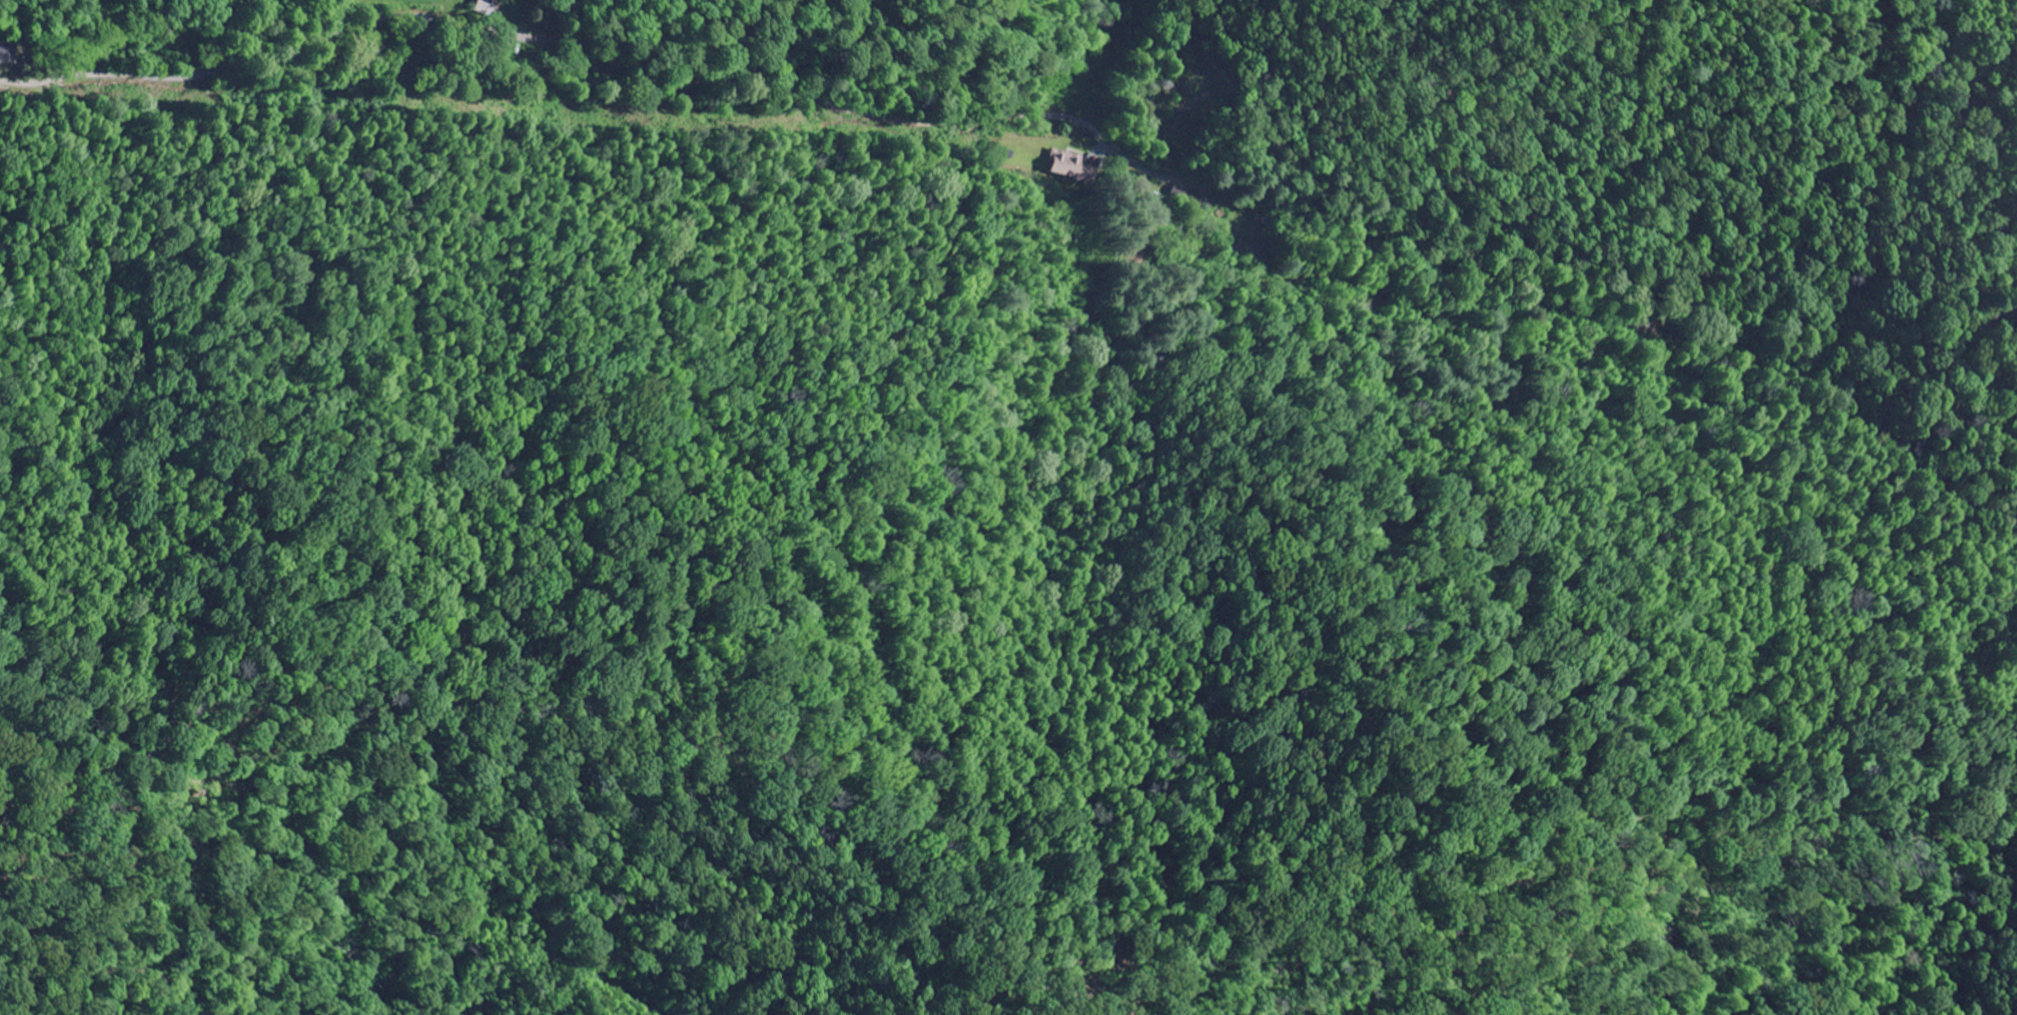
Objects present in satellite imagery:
road: (548, 36)
building: (9, 54)
building: (1066, 165)

